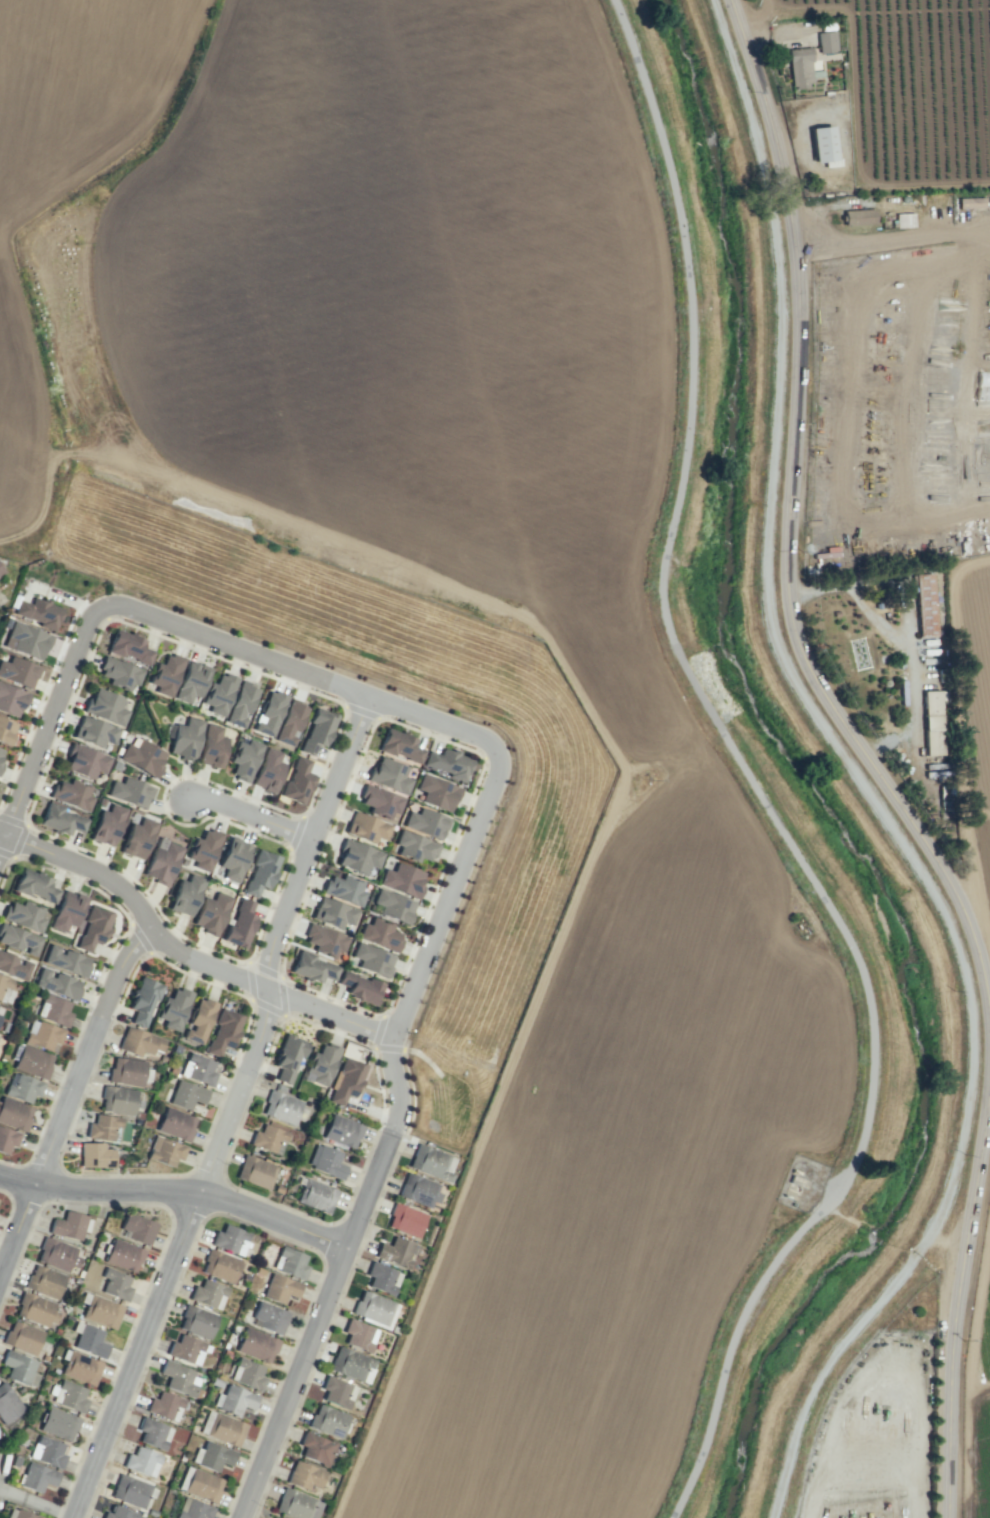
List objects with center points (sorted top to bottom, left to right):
building: (825, 41)
building: (800, 67)
building: (823, 145)
building: (989, 201)
building: (969, 202)
building: (858, 217)
building: (904, 220)
road: (925, 231)
road: (826, 242)
road: (857, 447)
crop: (586, 523)
building: (1, 572)
road: (837, 588)
building: (924, 604)
building: (38, 612)
crop: (441, 624)
building: (26, 640)
road: (550, 641)
building: (129, 646)
road: (685, 670)
building: (18, 672)
building: (120, 673)
building: (166, 674)
building: (191, 681)
road: (329, 689)
building: (11, 700)
building: (241, 703)
building: (105, 706)
building: (269, 713)
building: (290, 722)
building: (931, 722)
building: (6, 729)
building: (317, 730)
building: (94, 732)
building: (185, 738)
building: (400, 745)
building: (211, 746)
building: (1, 754)
building: (143, 757)
building: (244, 759)
road: (868, 760)
building: (85, 761)
building: (447, 763)
building: (268, 770)
building: (389, 775)
building: (297, 781)
building: (130, 792)
building: (437, 792)
building: (72, 793)
building: (380, 802)
road: (255, 816)
building: (61, 819)
building: (426, 823)
building: (107, 825)
building: (366, 827)
building: (137, 838)
road: (2, 840)
building: (414, 847)
road: (316, 848)
building: (204, 850)
building: (357, 856)
building: (233, 859)
building: (162, 861)
building: (260, 872)
building: (402, 879)
building: (35, 885)
building: (344, 889)
building: (185, 894)
building: (394, 906)
building: (67, 910)
building: (211, 913)
building: (333, 913)
building: (24, 915)
building: (240, 924)
building: (92, 927)
building: (380, 934)
building: (19, 939)
building: (324, 940)
road: (185, 954)
building: (66, 960)
building: (373, 960)
building: (14, 966)
building: (313, 967)
building: (57, 983)
building: (361, 987)
building: (5, 989)
building: (143, 1000)
building: (173, 1008)
building: (1, 1010)
building: (54, 1010)
building: (198, 1021)
building: (223, 1032)
building: (43, 1034)
building: (139, 1042)
road: (89, 1052)
building: (288, 1058)
building: (33, 1061)
building: (320, 1064)
building: (198, 1068)
building: (128, 1071)
building: (345, 1080)
building: (22, 1087)
building: (186, 1094)
building: (117, 1100)
building: (283, 1108)
building: (14, 1114)
building: (175, 1123)
building: (102, 1126)
building: (341, 1131)
building: (269, 1138)
building: (7, 1139)
building: (164, 1151)
building: (95, 1155)
building: (326, 1161)
building: (431, 1162)
building: (255, 1171)
road: (177, 1189)
building: (419, 1190)
building: (315, 1195)
road: (9, 1210)
building: (405, 1220)
road: (16, 1225)
building: (69, 1225)
building: (137, 1228)
building: (229, 1239)
building: (396, 1252)
road: (159, 1253)
building: (56, 1254)
building: (123, 1254)
road: (172, 1256)
building: (290, 1263)
building: (219, 1265)
building: (382, 1278)
building: (43, 1281)
road: (331, 1281)
building: (115, 1284)
building: (280, 1288)
building: (208, 1294)
building: (374, 1308)
building: (34, 1309)
building: (102, 1311)
building: (269, 1317)
building: (197, 1321)
building: (359, 1335)
building: (21, 1337)
building: (88, 1339)
building: (256, 1345)
building: (44, 1358)
building: (351, 1364)
building: (18, 1367)
building: (80, 1368)
building: (247, 1373)
building: (179, 1378)
building: (337, 1392)
building: (68, 1395)
building: (37, 1396)
road: (715, 1397)
building: (234, 1400)
building: (7, 1404)
building: (164, 1405)
building: (327, 1420)
building: (58, 1424)
building: (225, 1429)
building: (153, 1433)
building: (22, 1441)
building: (316, 1448)
building: (47, 1451)
building: (212, 1456)
building: (15, 1461)
building: (142, 1461)
parking lot: (4, 1470)
building: (304, 1475)
building: (37, 1477)
building: (200, 1484)
building: (132, 1491)
road: (35, 1503)
building: (297, 1505)
building: (193, 1509)
building: (119, 1513)
building: (19, 1514)

